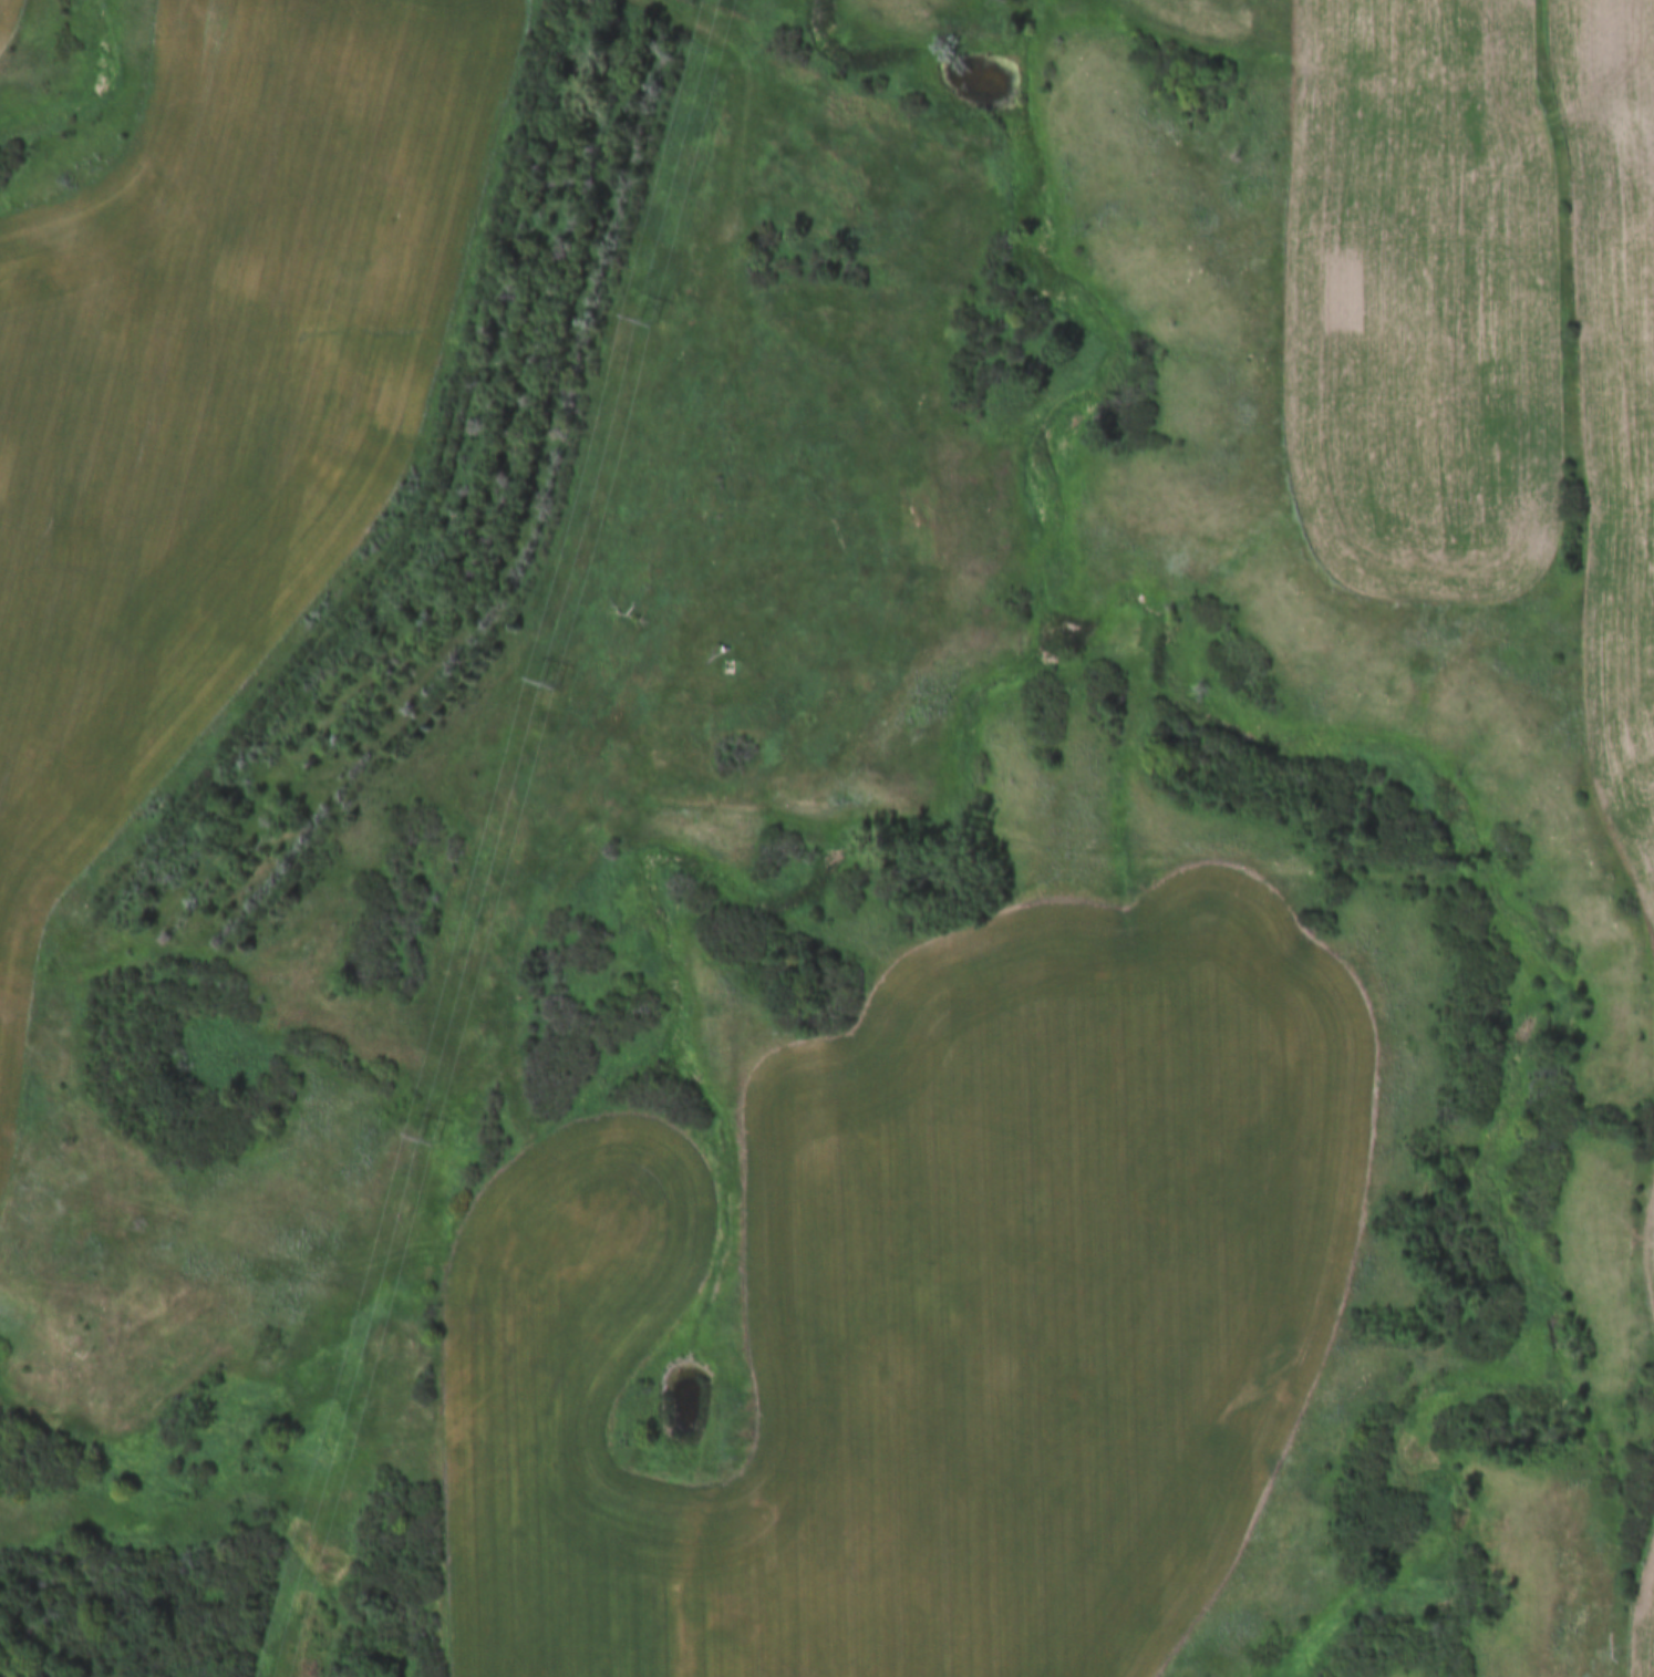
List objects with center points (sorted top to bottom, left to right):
power tower: (657, 320)
power tower: (561, 683)
power tower: (435, 1139)

